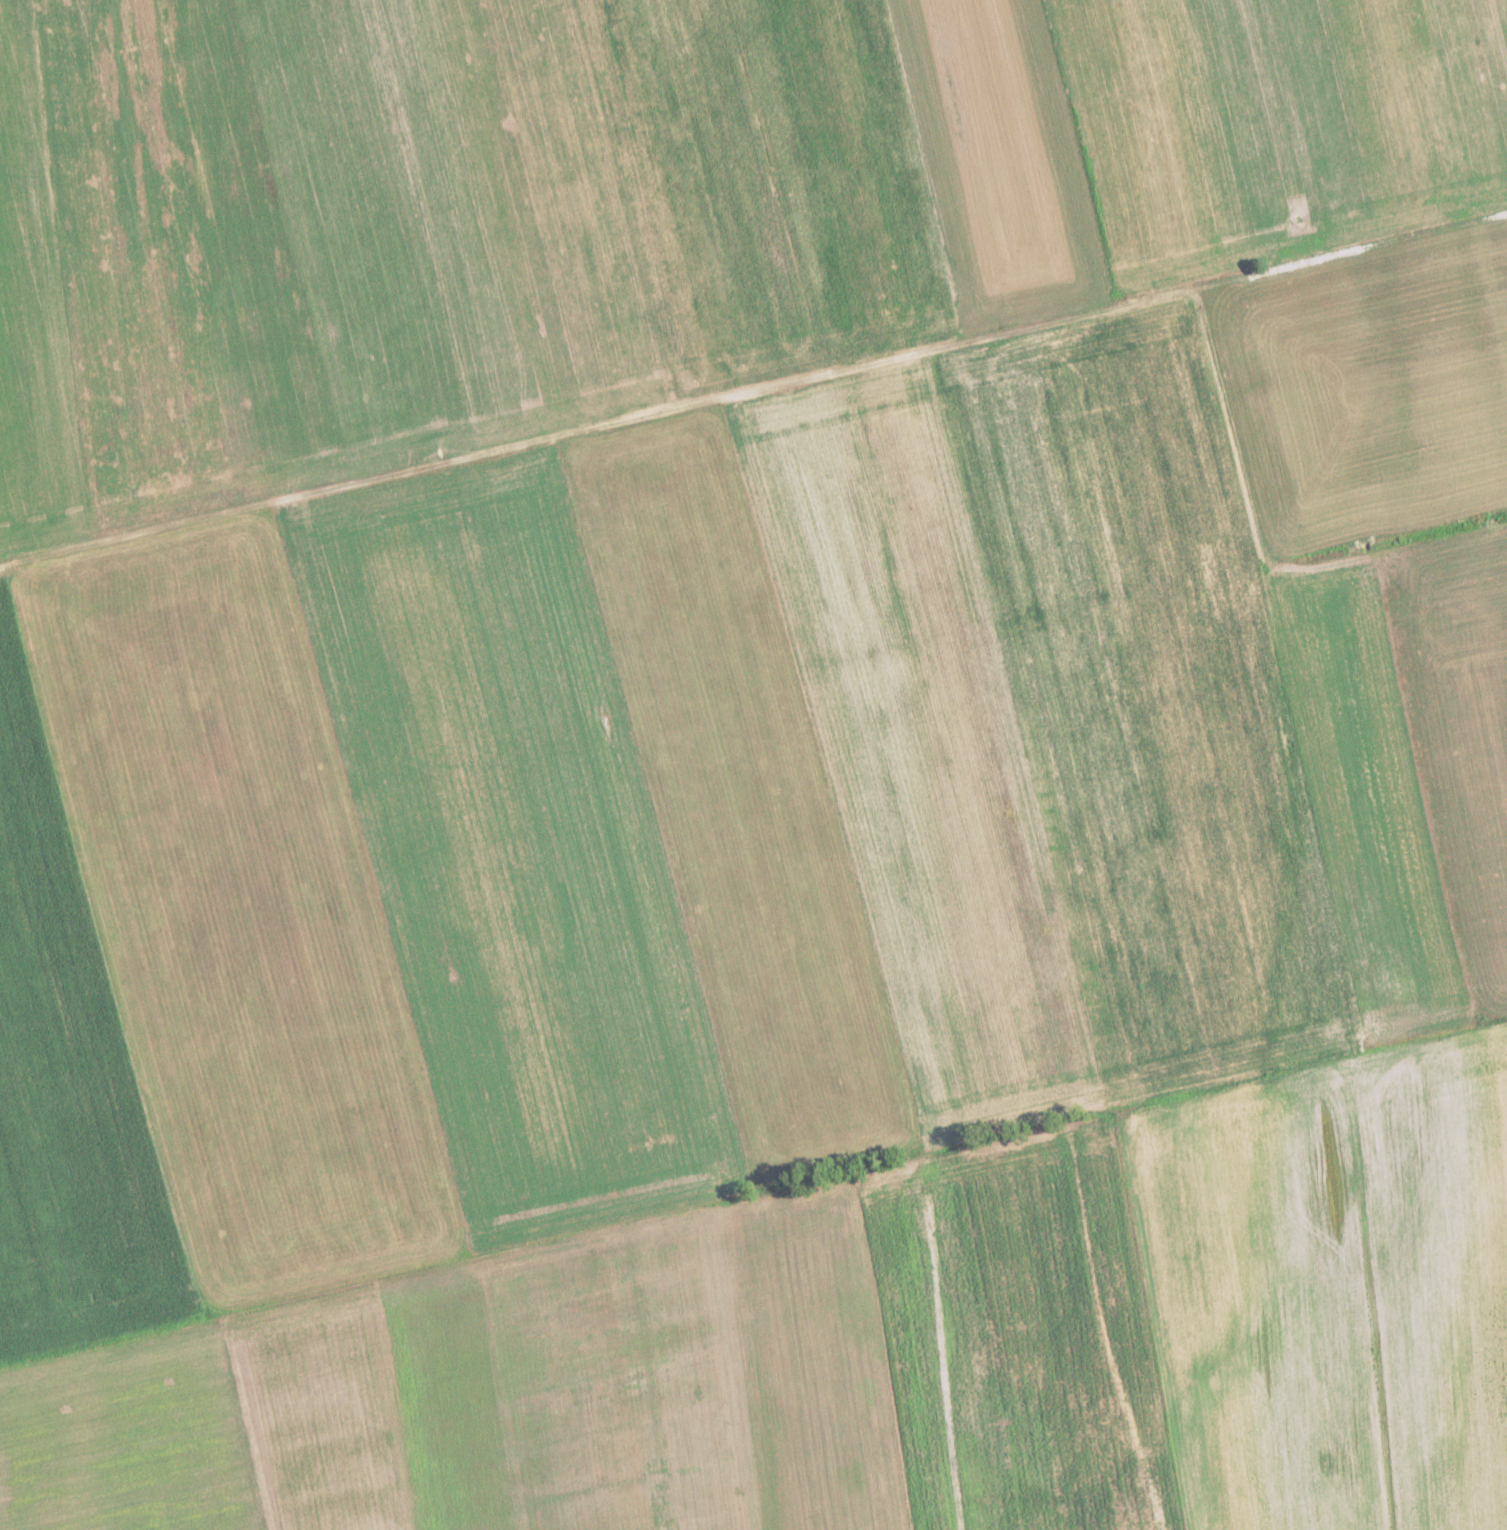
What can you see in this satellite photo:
road: (753, 375)

